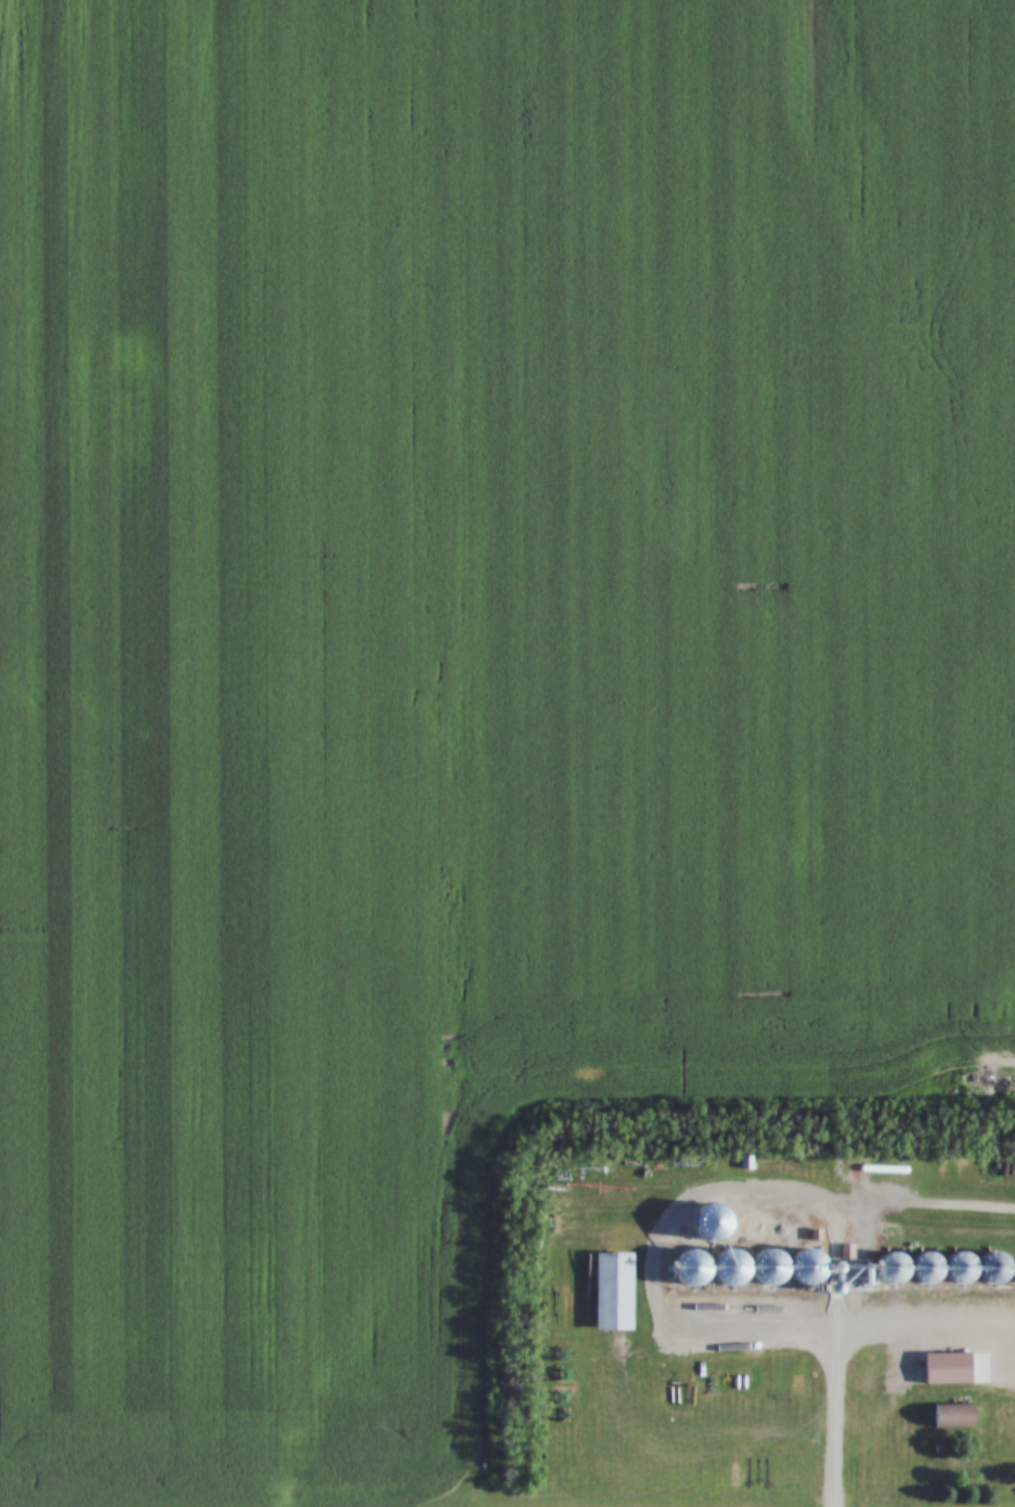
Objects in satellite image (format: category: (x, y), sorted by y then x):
building: (675, 1184)
building: (857, 1265)
building: (723, 1269)
silo: (723, 1269)
building: (761, 1269)
silo: (761, 1269)
building: (801, 1269)
silo: (801, 1269)
building: (988, 1269)
silo: (988, 1269)
building: (920, 1270)
silo: (920, 1270)
building: (954, 1270)
silo: (954, 1270)
building: (839, 1271)
building: (887, 1271)
silo: (887, 1271)
building: (1011, 1275)
silo: (1011, 1275)
building: (824, 1280)
silo: (824, 1280)
building: (856, 1281)
silo: (856, 1281)
building: (677, 1292)
building: (605, 1293)
road: (817, 1326)
building: (938, 1370)
building: (946, 1416)
building: (932, 1450)

